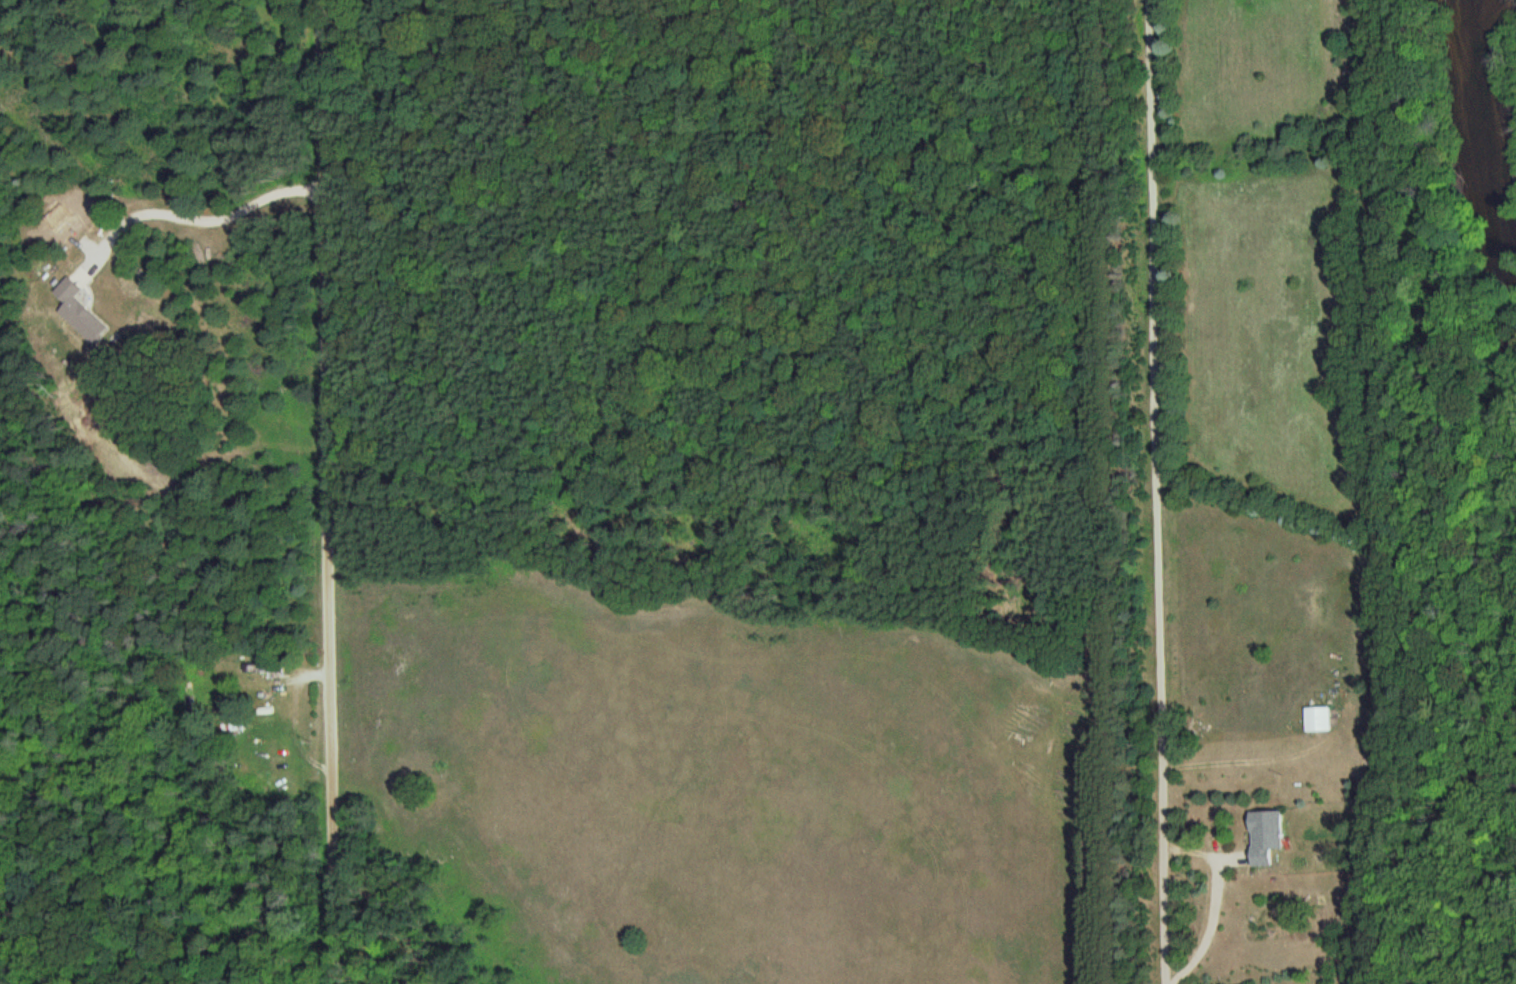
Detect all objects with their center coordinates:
river: (1489, 142)
road: (329, 492)
road: (1157, 492)
building: (266, 669)
building: (1317, 719)
building: (1265, 836)

